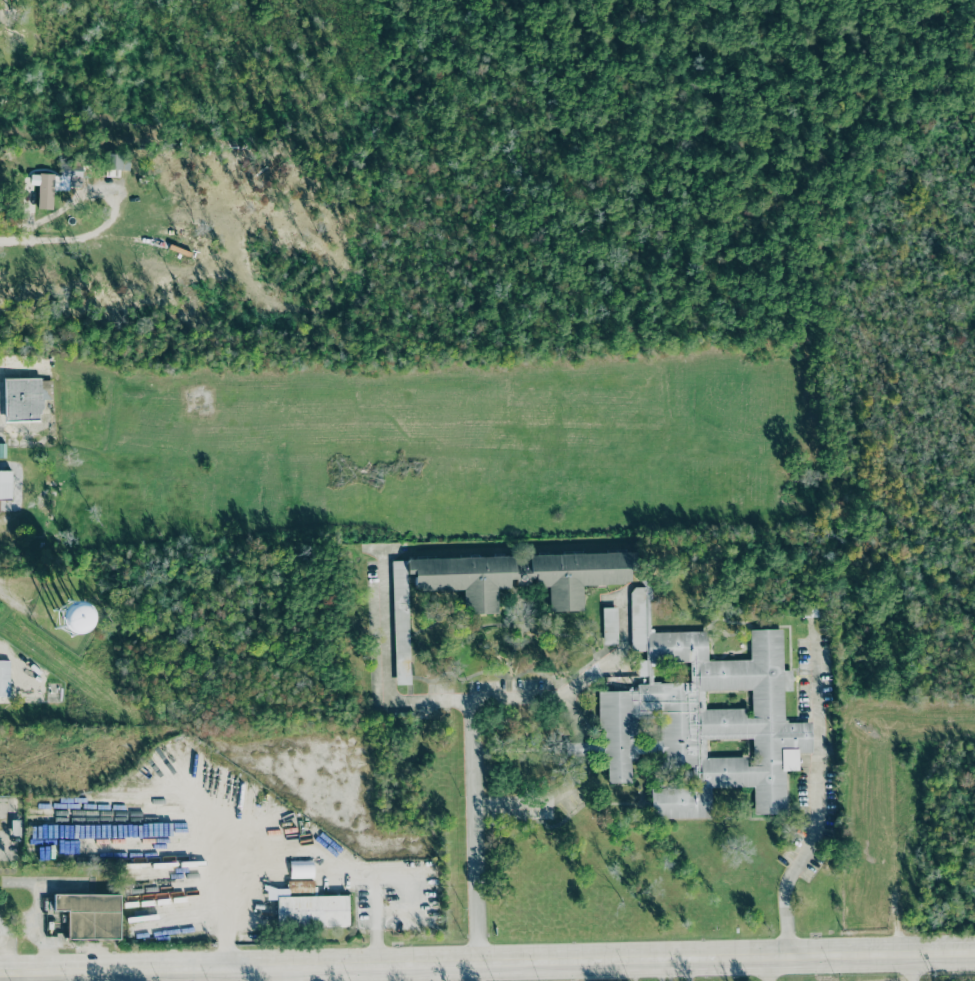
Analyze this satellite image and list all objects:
building: (0, 0)
building: (114, 161)
building: (71, 171)
building: (44, 189)
road: (68, 237)
building: (25, 398)
building: (2, 449)
building: (5, 484)
building: (498, 585)
building: (69, 618)
building: (609, 625)
road: (386, 664)
building: (4, 678)
road: (579, 685)
road: (574, 716)
building: (704, 718)
road: (582, 748)
road: (537, 799)
road: (818, 807)
road: (472, 830)
road: (248, 845)
building: (301, 869)
building: (308, 905)
building: (90, 915)
road: (375, 926)
road: (487, 962)
road: (769, 969)

